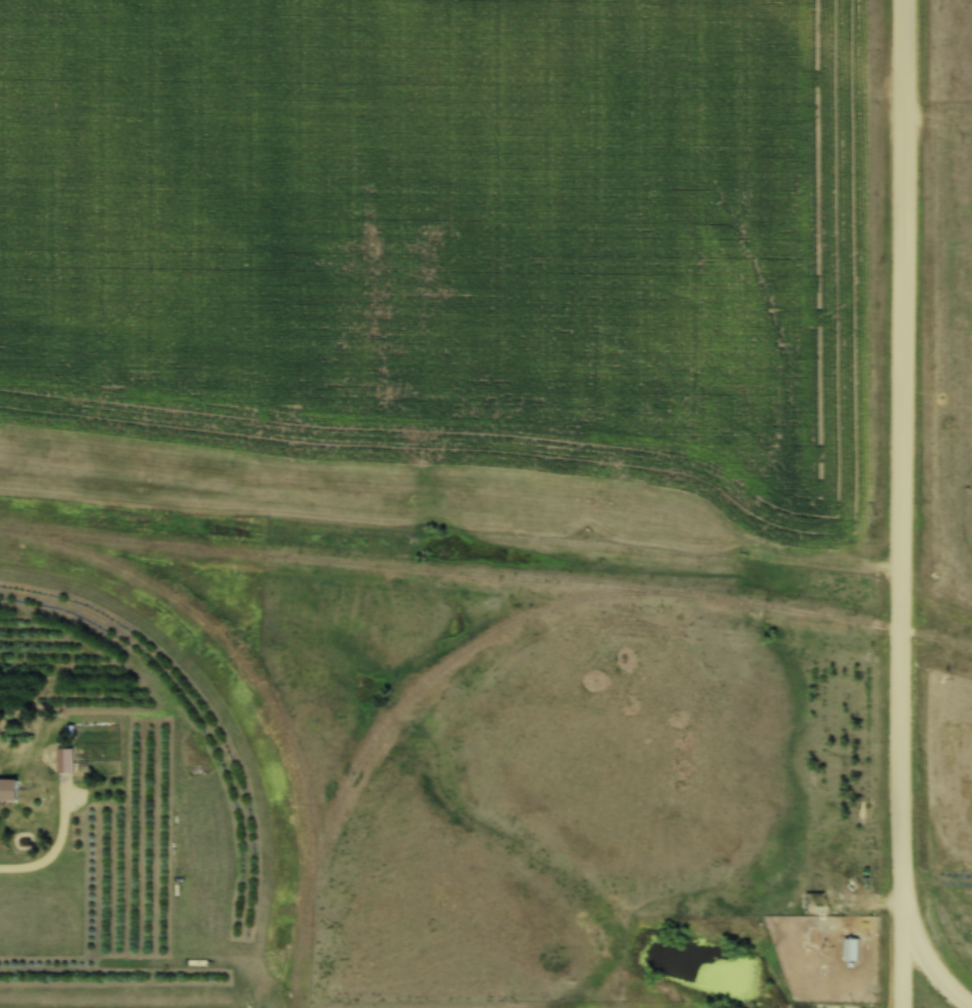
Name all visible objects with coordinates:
road: (900, 504)
railway: (487, 575)
railway: (241, 666)
railway: (374, 734)
building: (63, 760)
building: (8, 789)
building: (851, 950)
road: (923, 964)

